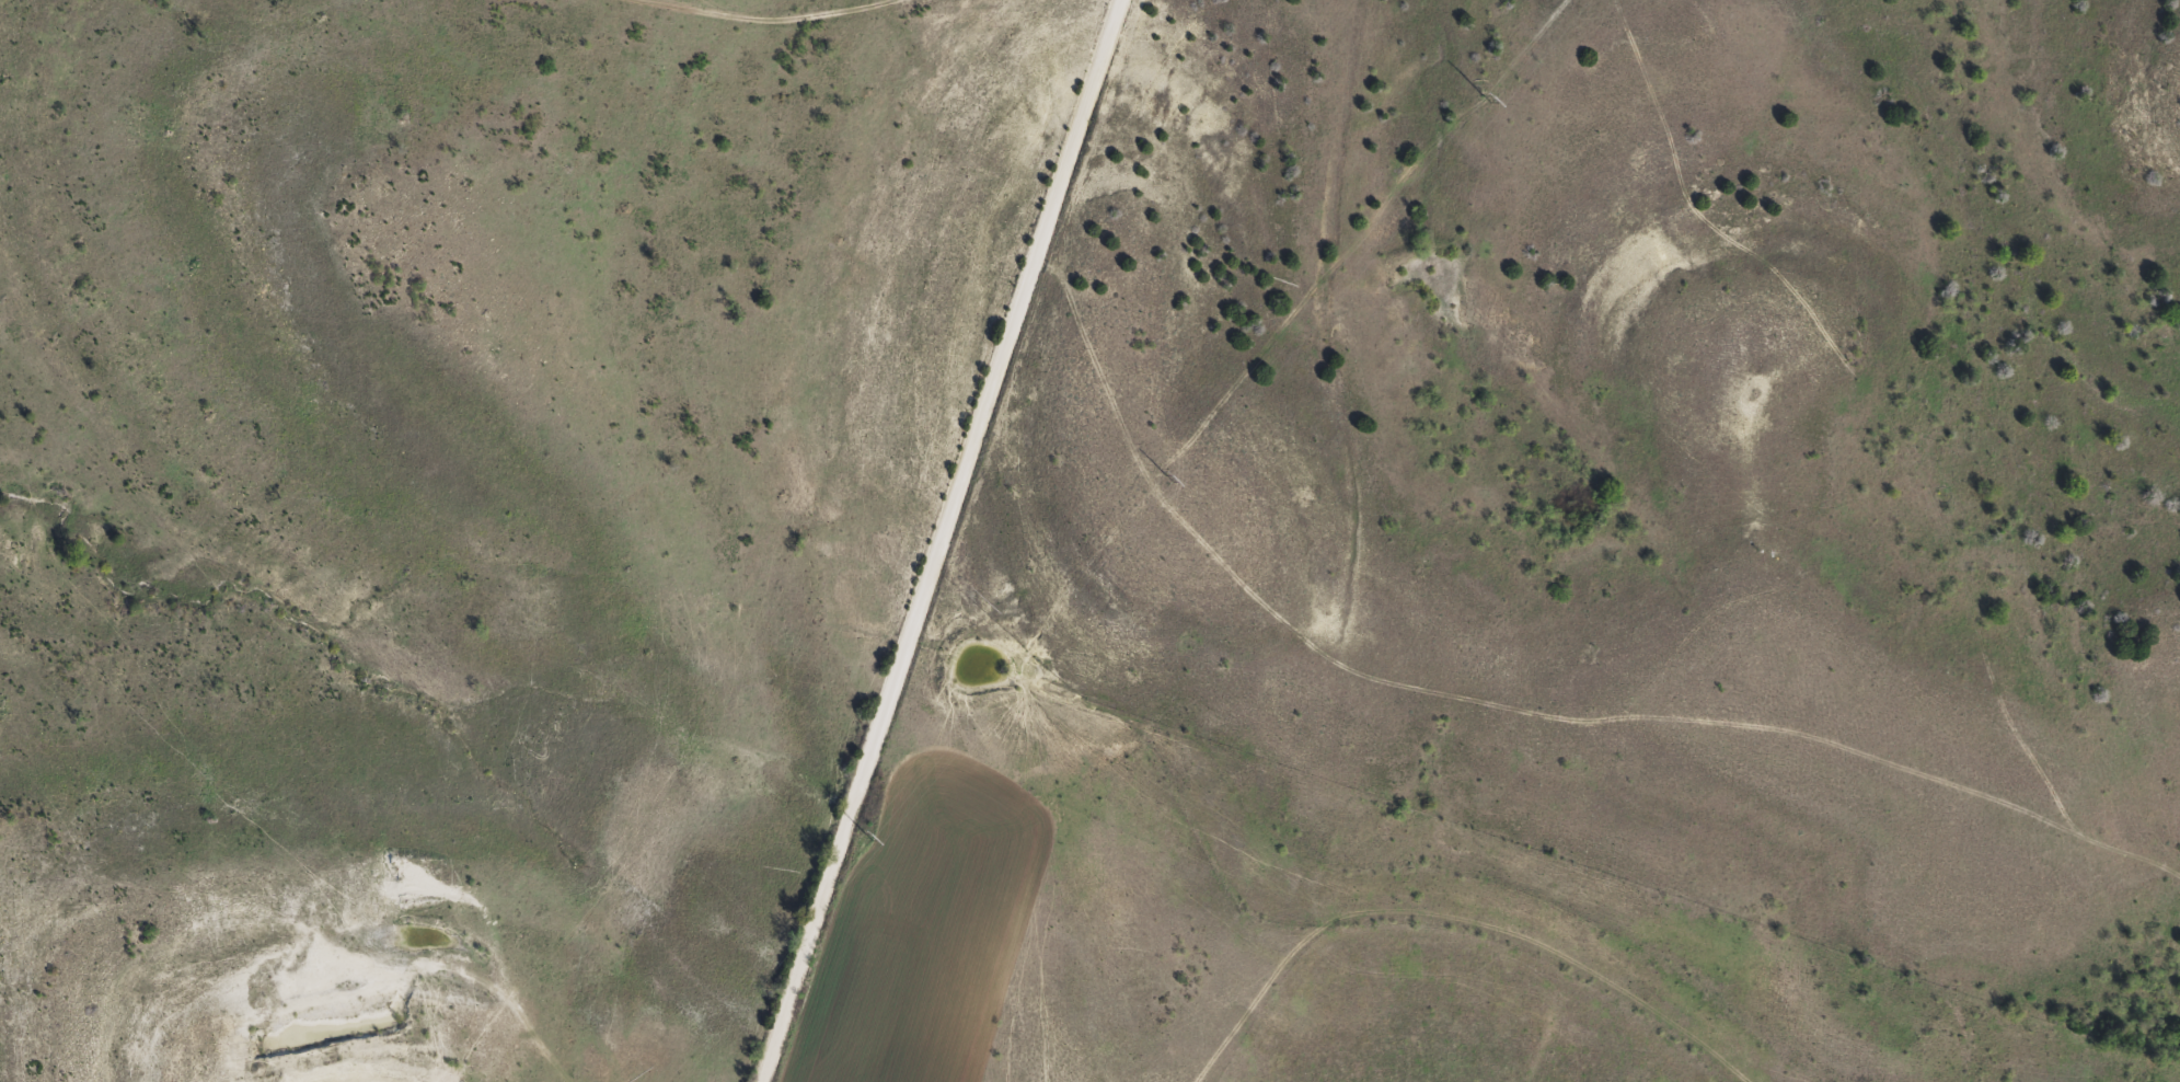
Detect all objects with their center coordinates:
power tower: (1486, 97)
power tower: (1168, 476)
road: (938, 541)
power tower: (867, 836)

